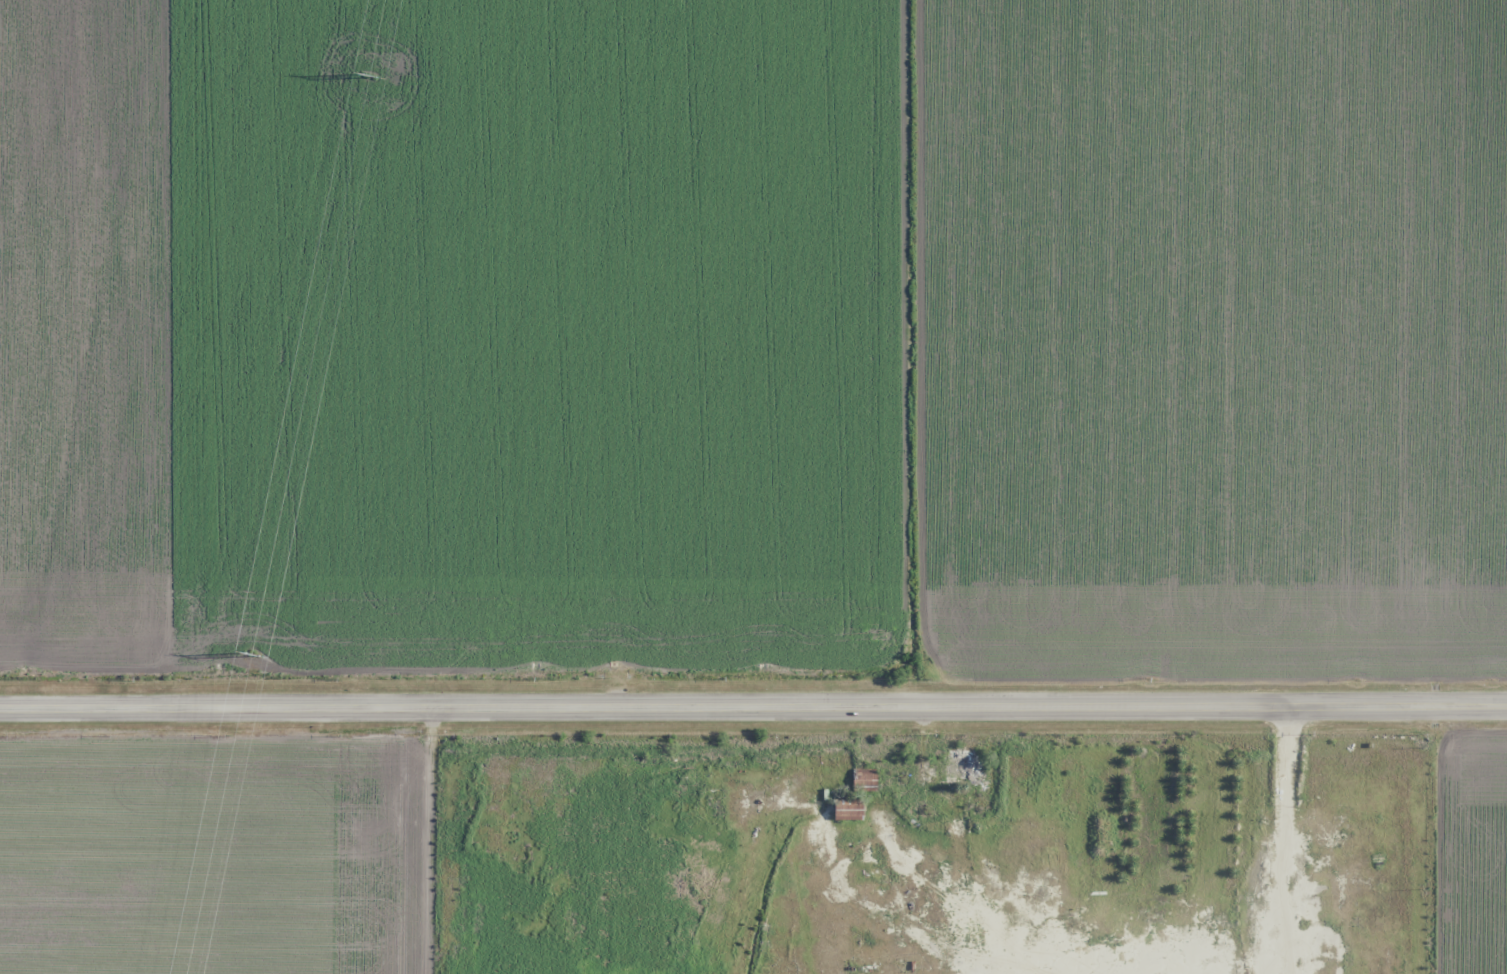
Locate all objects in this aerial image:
power tower: (370, 75)
power tower: (251, 653)
road: (753, 708)
building: (960, 765)
building: (846, 813)
road: (437, 841)

